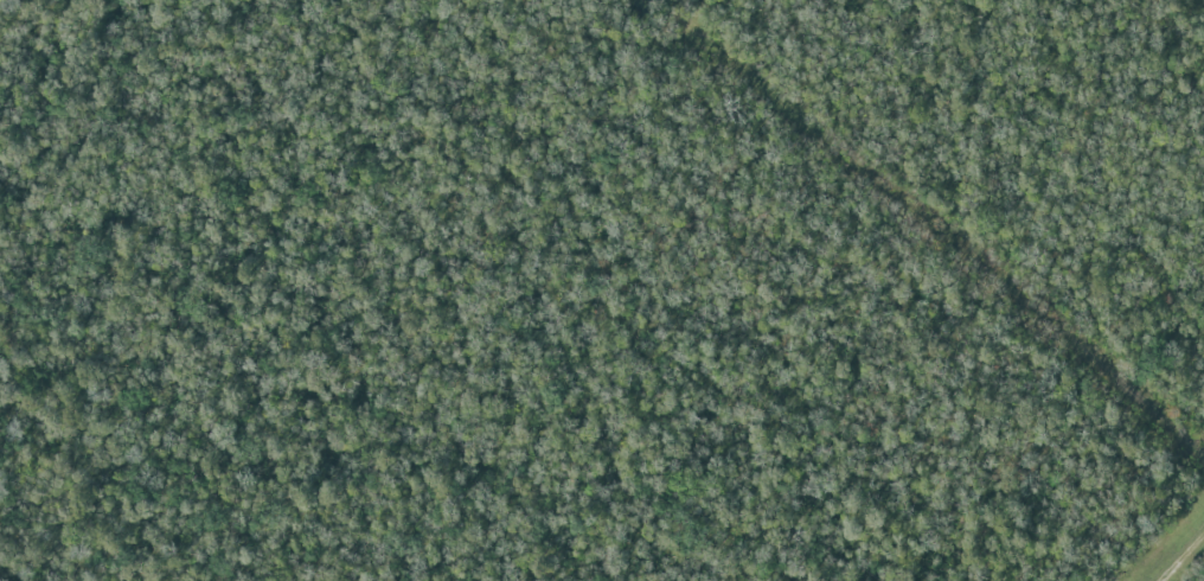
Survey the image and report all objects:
road: (1180, 556)

